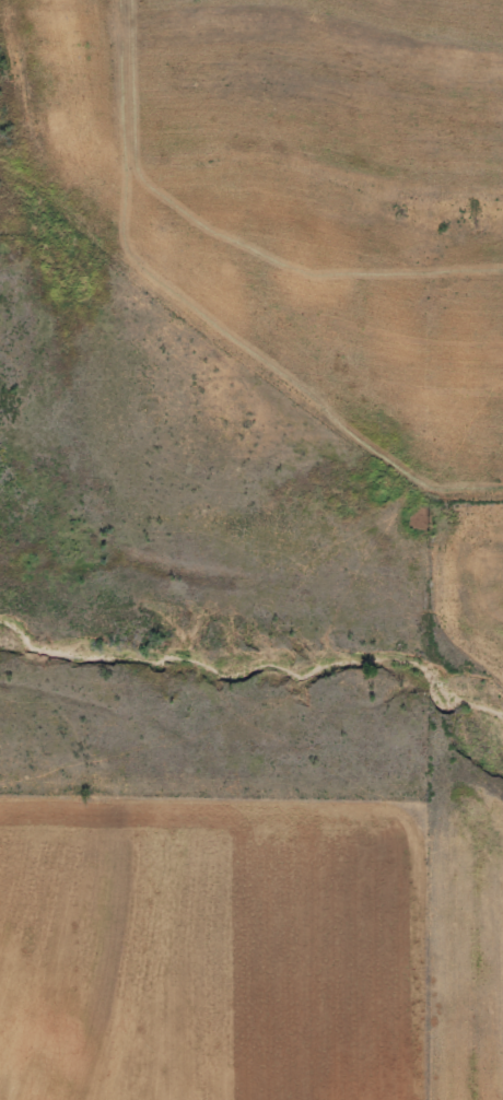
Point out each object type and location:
road: (177, 150)

